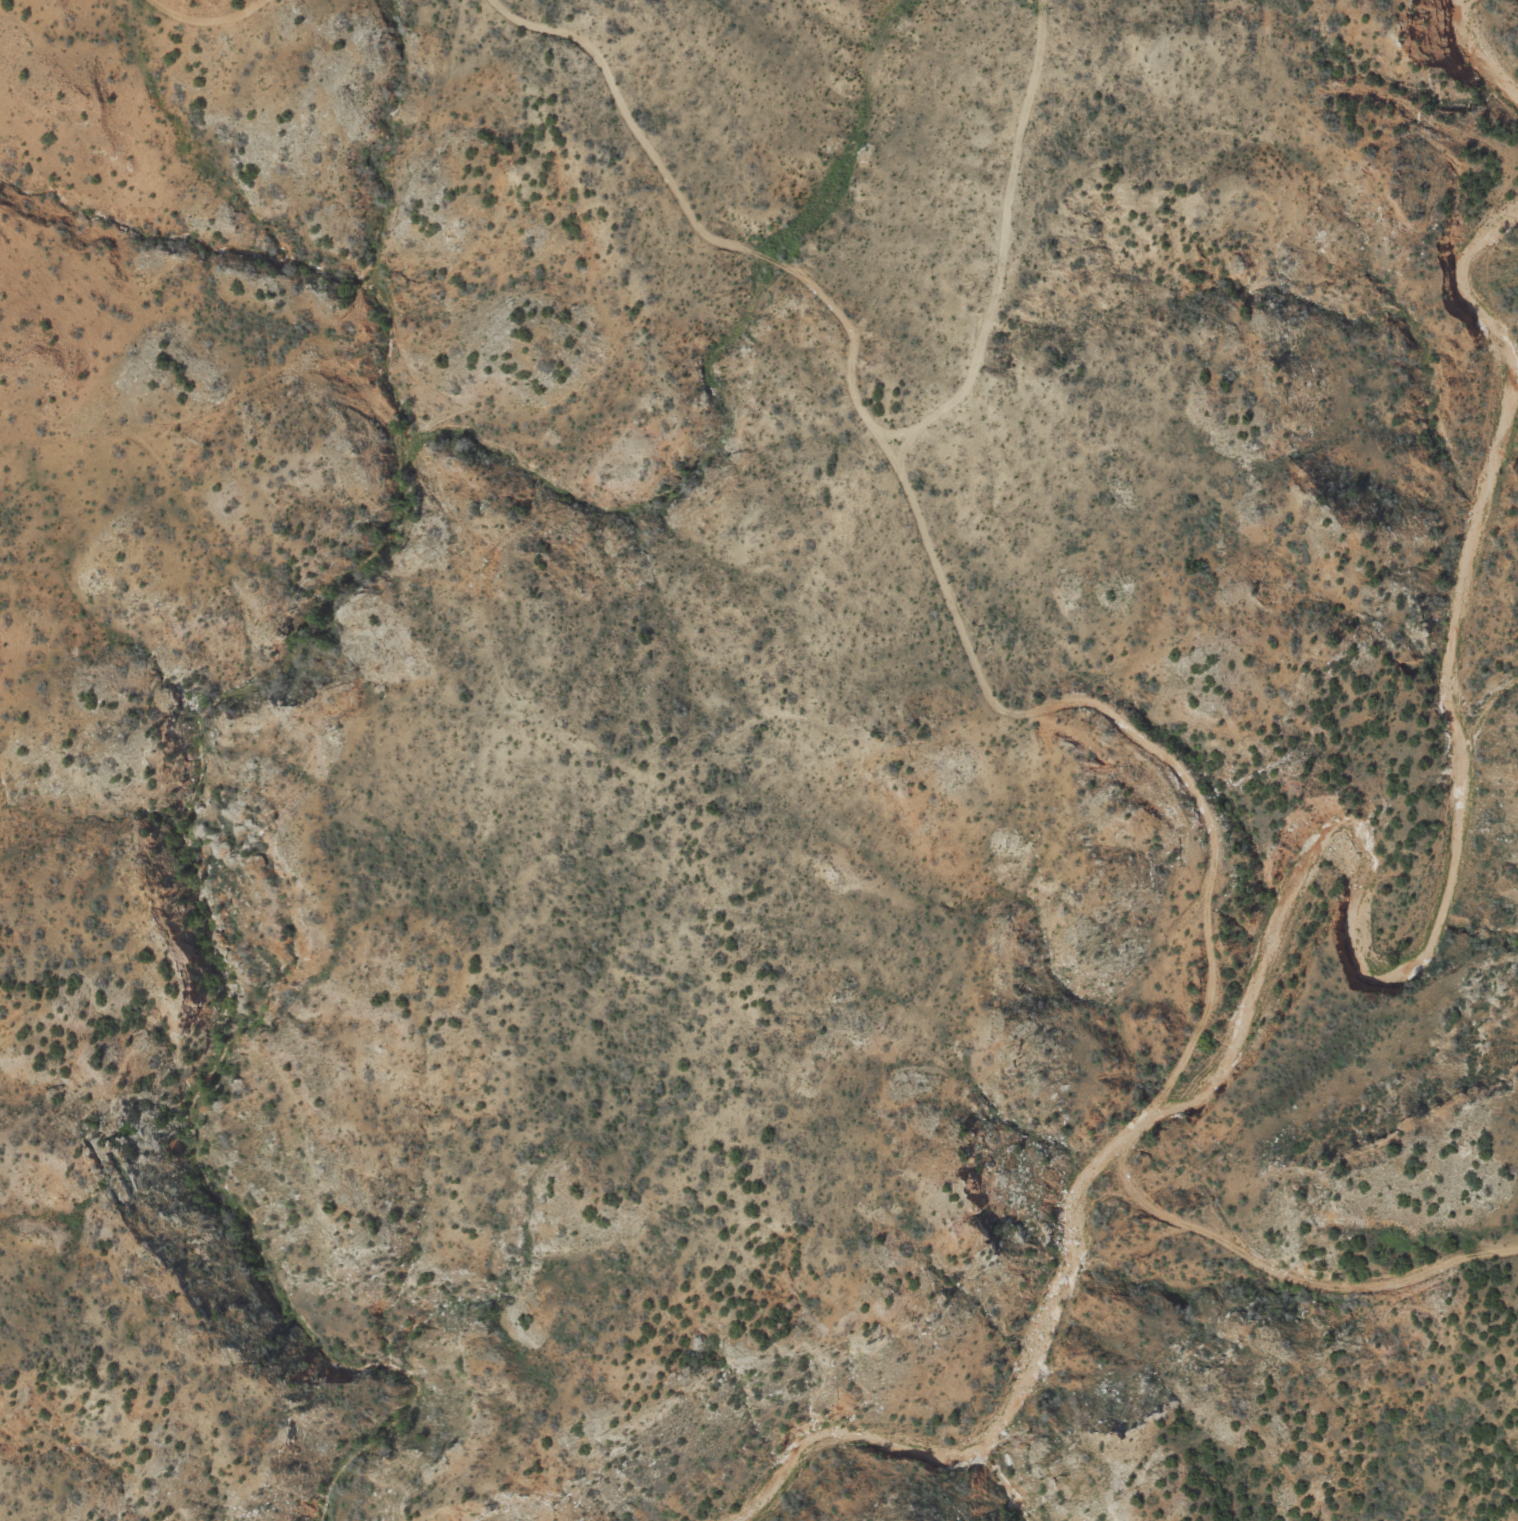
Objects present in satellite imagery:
road: (1273, 229)

